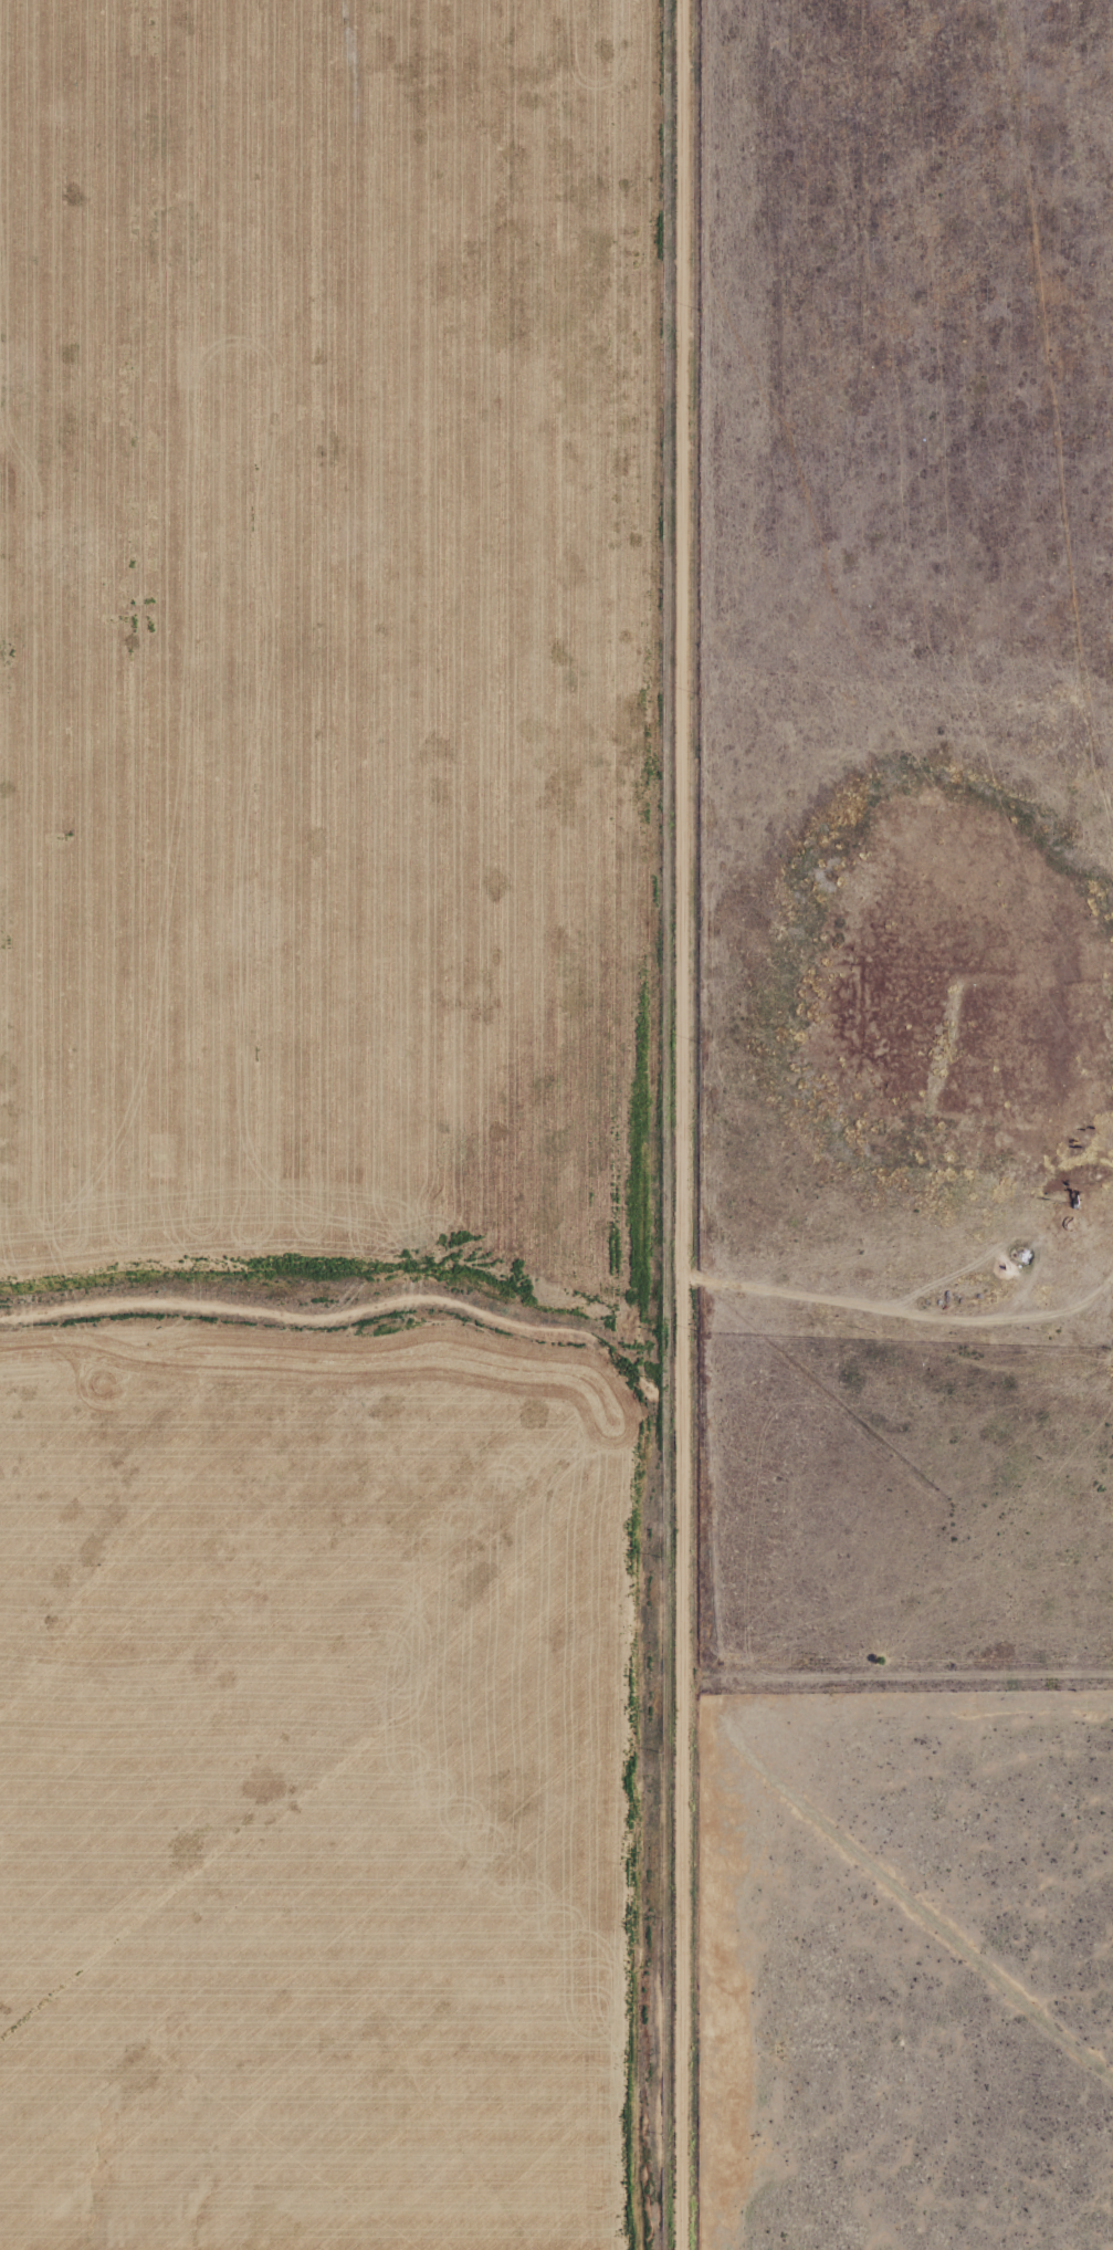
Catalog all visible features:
road: (682, 1124)

